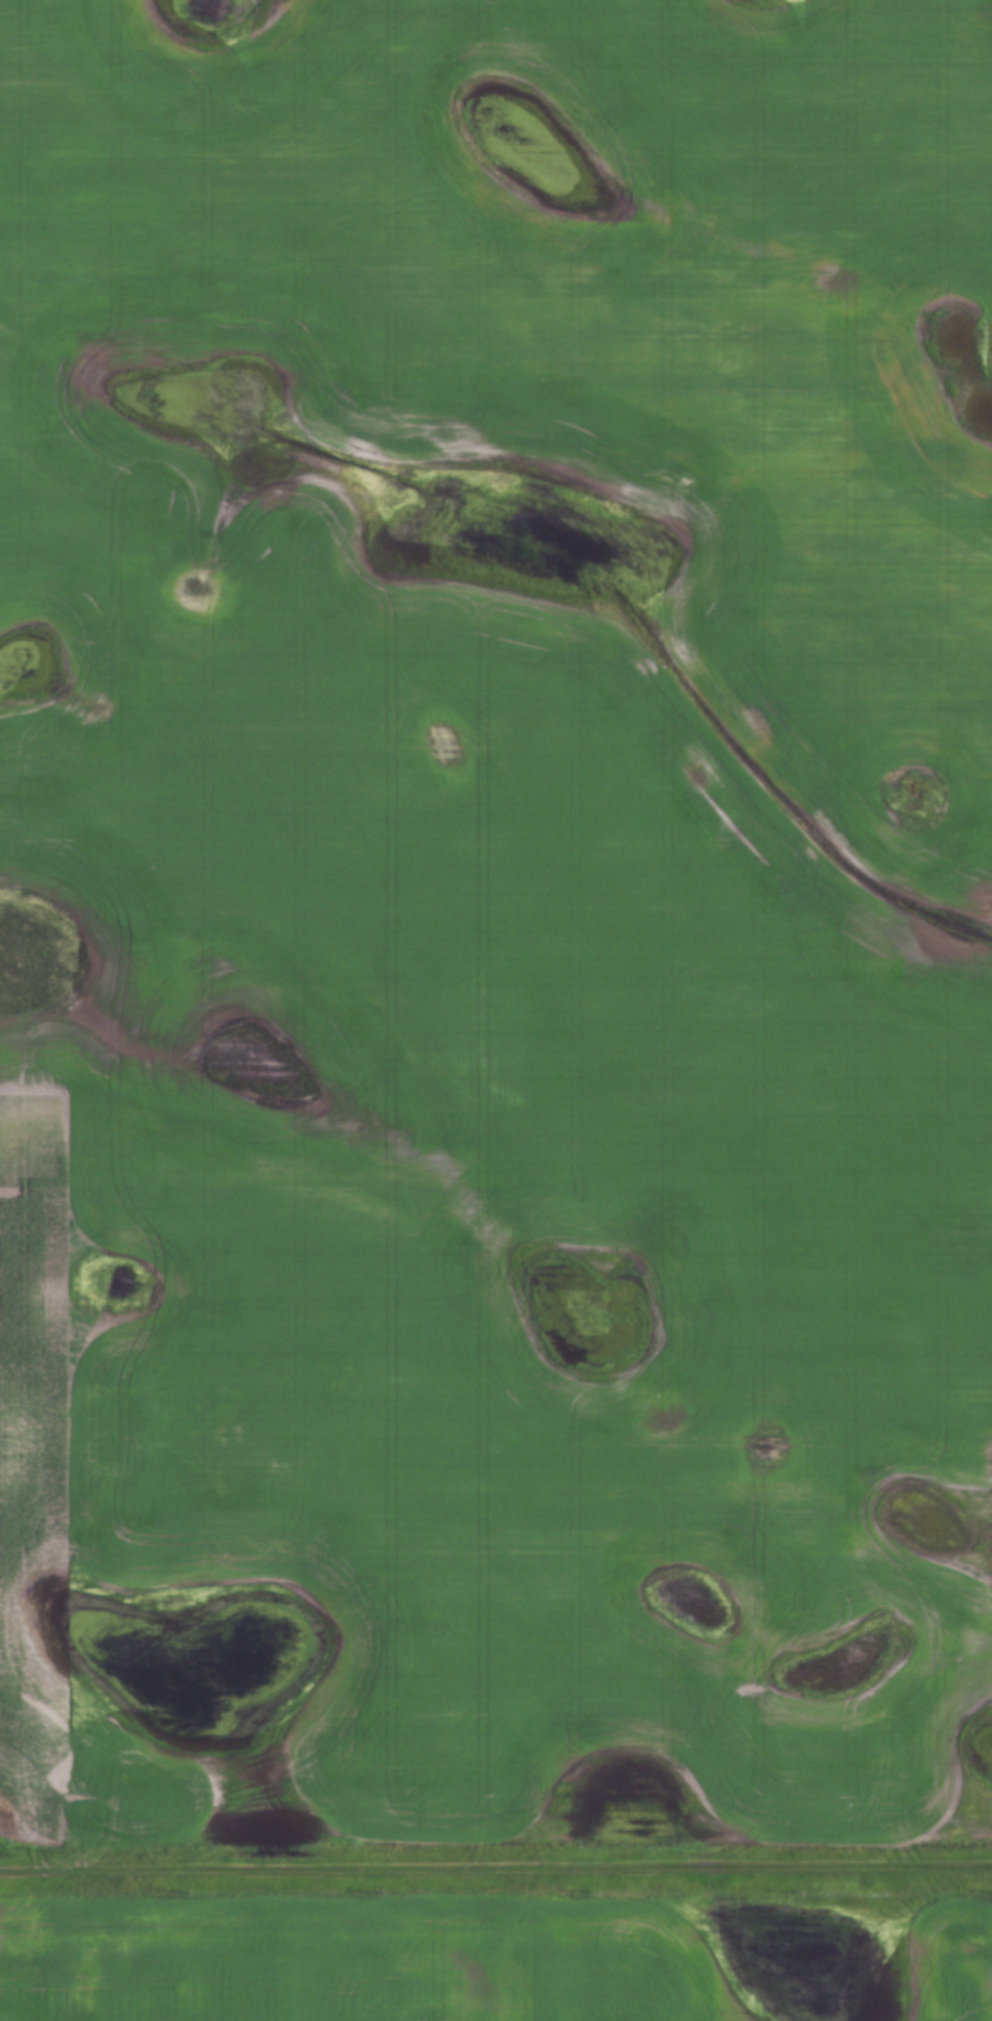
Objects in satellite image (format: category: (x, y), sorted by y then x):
road: (496, 1867)

